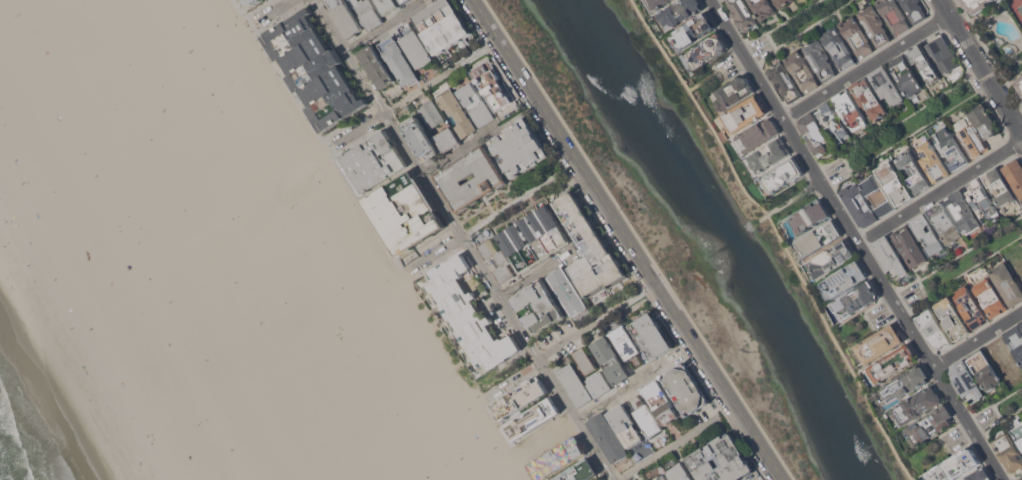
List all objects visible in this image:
building: (992, 0)
building: (404, 1)
building: (249, 3)
building: (659, 3)
building: (782, 3)
building: (387, 5)
building: (976, 5)
park: (1017, 7)
building: (762, 8)
building: (914, 10)
building: (681, 11)
road: (270, 12)
building: (367, 13)
building: (742, 14)
building: (894, 15)
building: (345, 17)
building: (442, 25)
building: (874, 25)
road: (381, 28)
road: (793, 29)
building: (694, 30)
building: (856, 36)
building: (415, 46)
building: (838, 48)
building: (708, 50)
building: (943, 54)
building: (819, 59)
building: (398, 61)
building: (925, 63)
building: (376, 66)
road: (865, 66)
road: (981, 66)
building: (314, 70)
building: (801, 70)
road: (716, 72)
road: (441, 75)
building: (905, 75)
building: (783, 81)
park: (216, 84)
building: (1020, 84)
building: (887, 85)
building: (493, 86)
building: (733, 92)
building: (870, 98)
building: (476, 103)
building: (851, 110)
building: (457, 112)
building: (431, 114)
building: (745, 114)
building: (833, 122)
road: (904, 129)
road: (356, 130)
building: (966, 131)
road: (318, 133)
building: (815, 134)
building: (756, 135)
building: (421, 138)
building: (447, 139)
building: (520, 147)
building: (950, 148)
road: (458, 151)
building: (768, 155)
building: (373, 161)
building: (933, 161)
building: (913, 171)
building: (782, 175)
building: (1015, 176)
building: (472, 179)
building: (895, 183)
building: (999, 186)
road: (940, 192)
building: (877, 194)
road: (518, 198)
road: (789, 199)
building: (982, 201)
building: (859, 205)
building: (963, 211)
building: (405, 212)
building: (809, 216)
building: (945, 223)
building: (927, 234)
road: (778, 235)
building: (819, 237)
building: (534, 238)
road: (628, 239)
road: (463, 240)
road: (855, 240)
park: (314, 245)
building: (589, 247)
building: (909, 247)
road: (436, 250)
building: (890, 257)
building: (831, 259)
building: (496, 260)
road: (406, 265)
road: (959, 268)
road: (533, 274)
building: (843, 279)
building: (1007, 284)
building: (566, 290)
building: (990, 298)
building: (855, 300)
building: (539, 306)
road: (618, 307)
building: (971, 307)
building: (468, 314)
building: (953, 318)
building: (1021, 321)
building: (1021, 322)
building: (934, 329)
building: (651, 333)
road: (977, 339)
building: (1015, 341)
building: (879, 343)
building: (626, 345)
road: (687, 349)
building: (585, 360)
building: (610, 360)
building: (892, 364)
road: (536, 366)
building: (983, 369)
road: (443, 376)
building: (966, 381)
building: (905, 383)
building: (575, 384)
building: (601, 386)
road: (627, 386)
building: (685, 389)
building: (520, 397)
road: (485, 398)
building: (661, 402)
building: (916, 405)
road: (720, 406)
park: (1000, 411)
building: (645, 416)
building: (533, 418)
building: (929, 425)
building: (626, 426)
building: (1018, 433)
building: (608, 437)
road: (539, 440)
park: (470, 445)
road: (665, 448)
building: (1009, 452)
building: (558, 458)
building: (721, 460)
park: (436, 464)
building: (956, 466)
building: (579, 471)
building: (681, 472)
building: (979, 475)
building: (661, 477)

